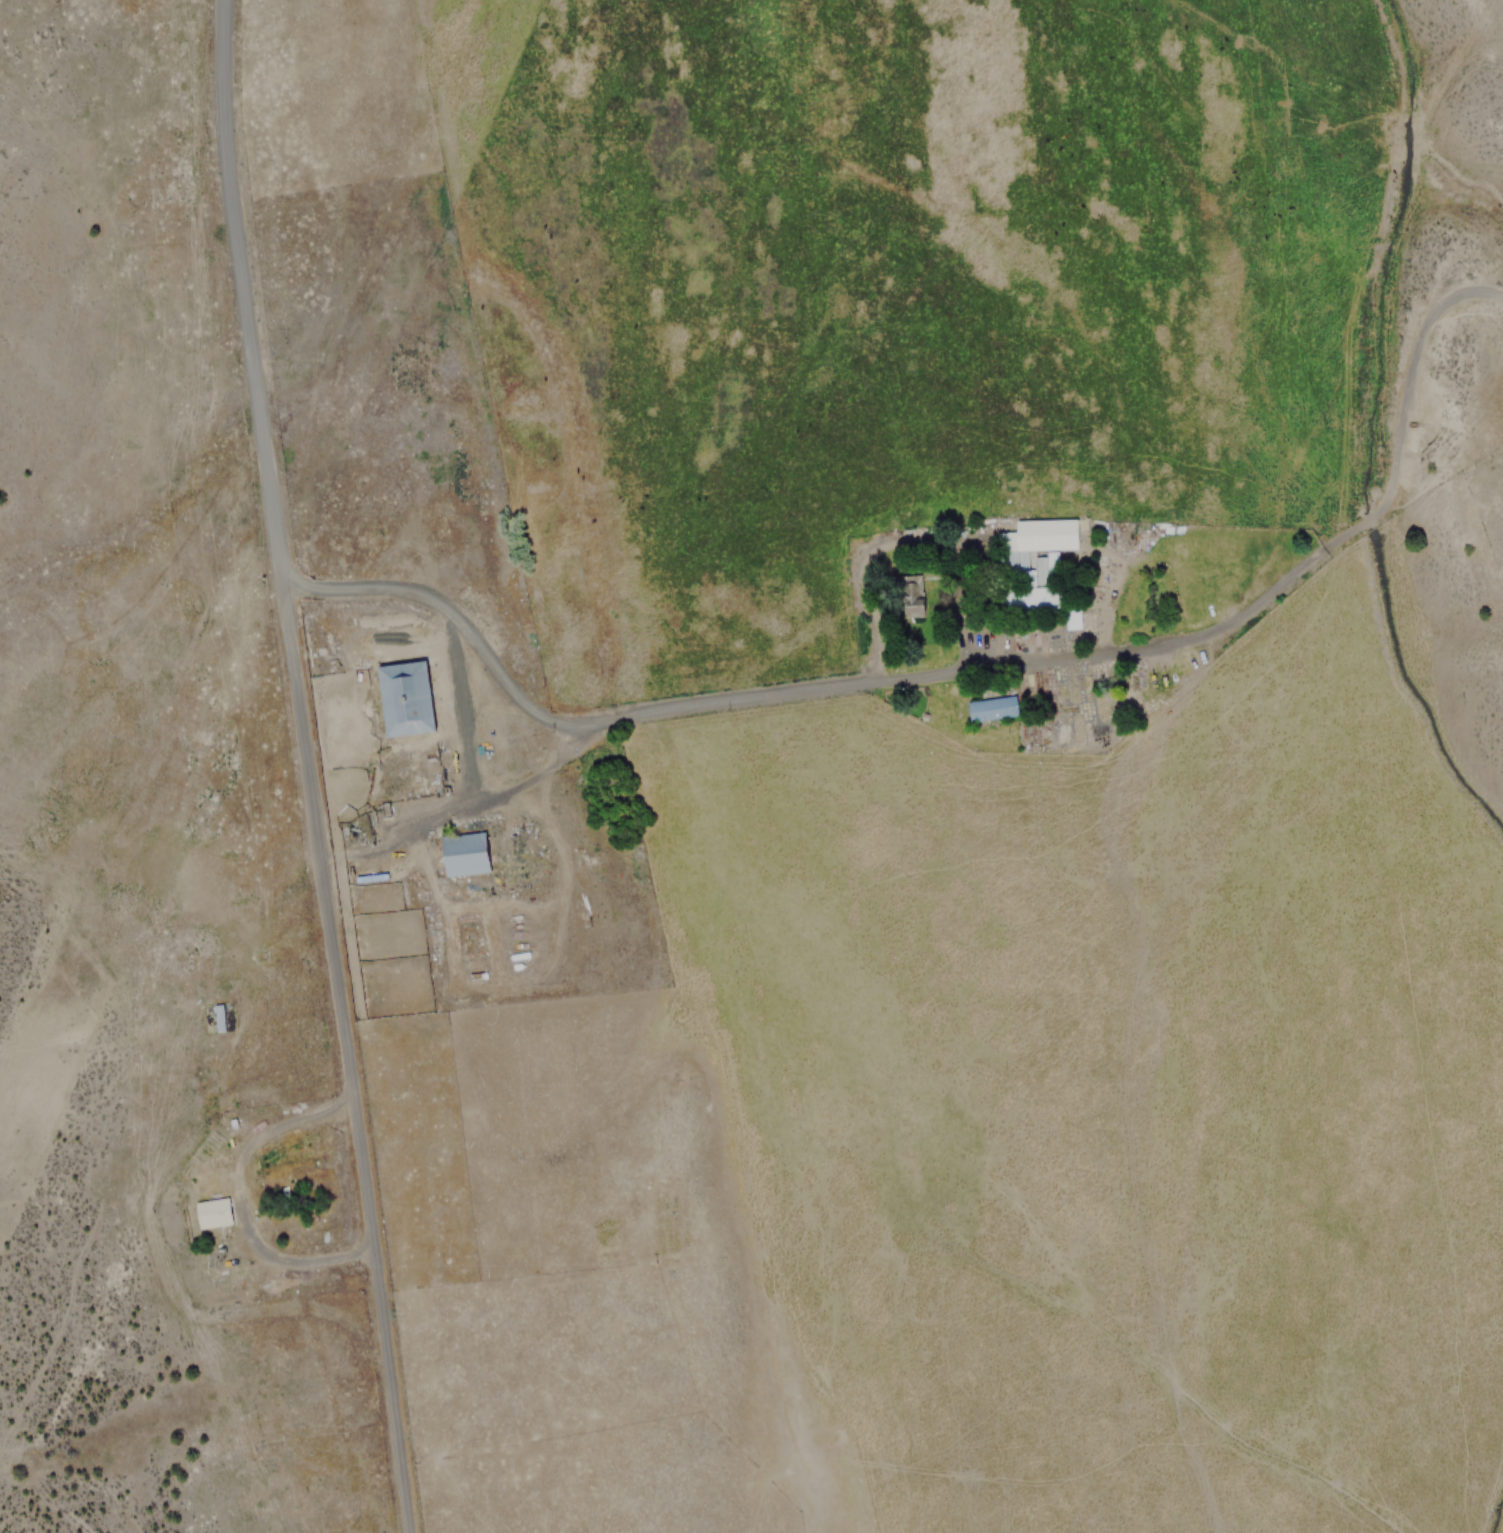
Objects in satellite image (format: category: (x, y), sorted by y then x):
building: (1033, 589)
road: (963, 671)
building: (407, 699)
building: (994, 709)
road: (307, 766)
building: (471, 853)
building: (217, 1019)
building: (215, 1213)

